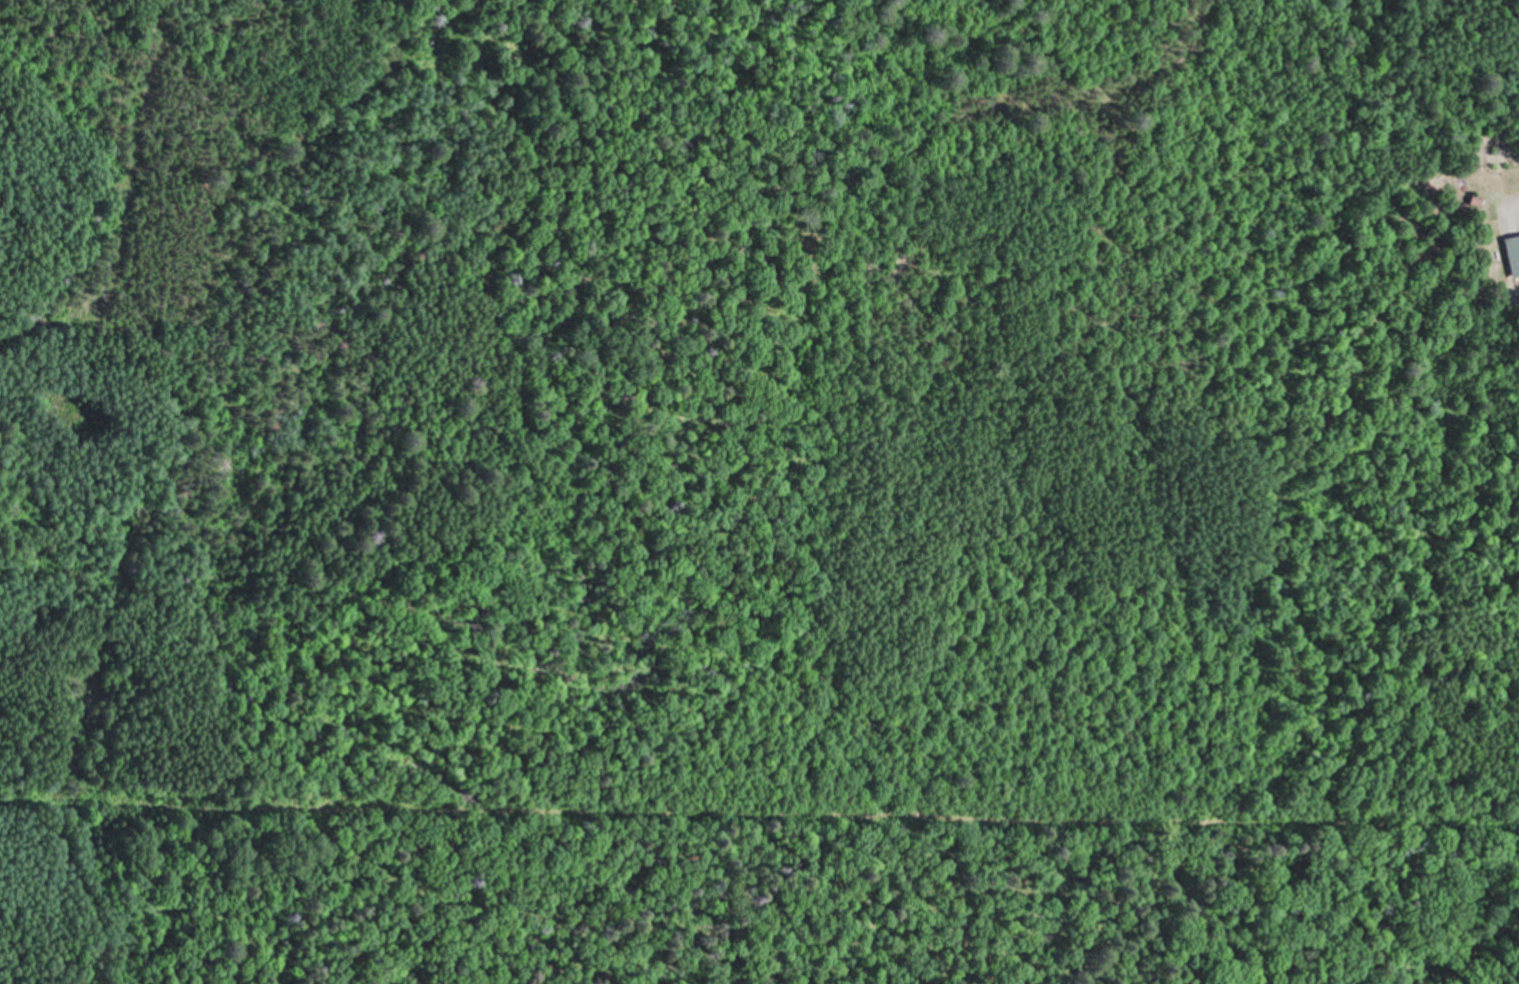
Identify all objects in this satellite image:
building: (1471, 198)
road: (1515, 200)
building: (1511, 253)

